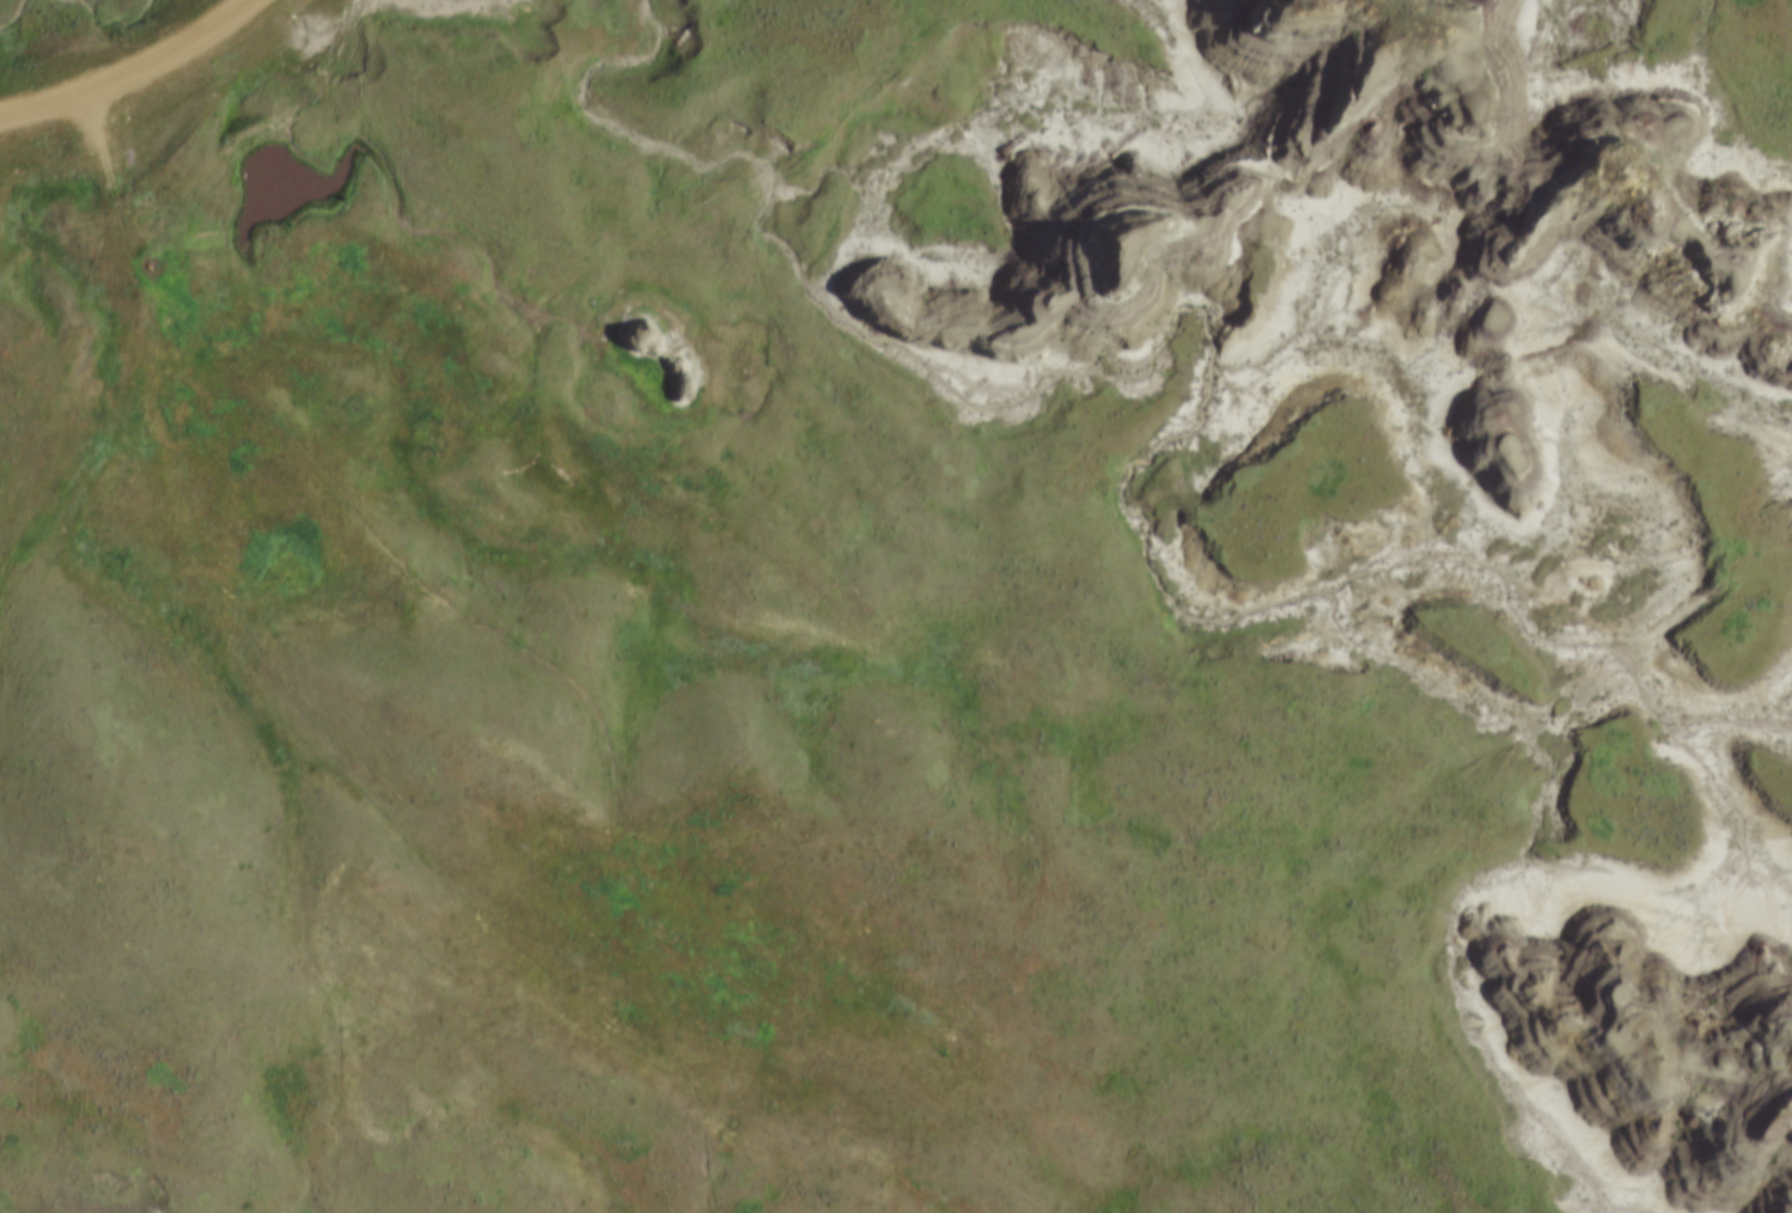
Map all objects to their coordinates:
road: (152, 116)

